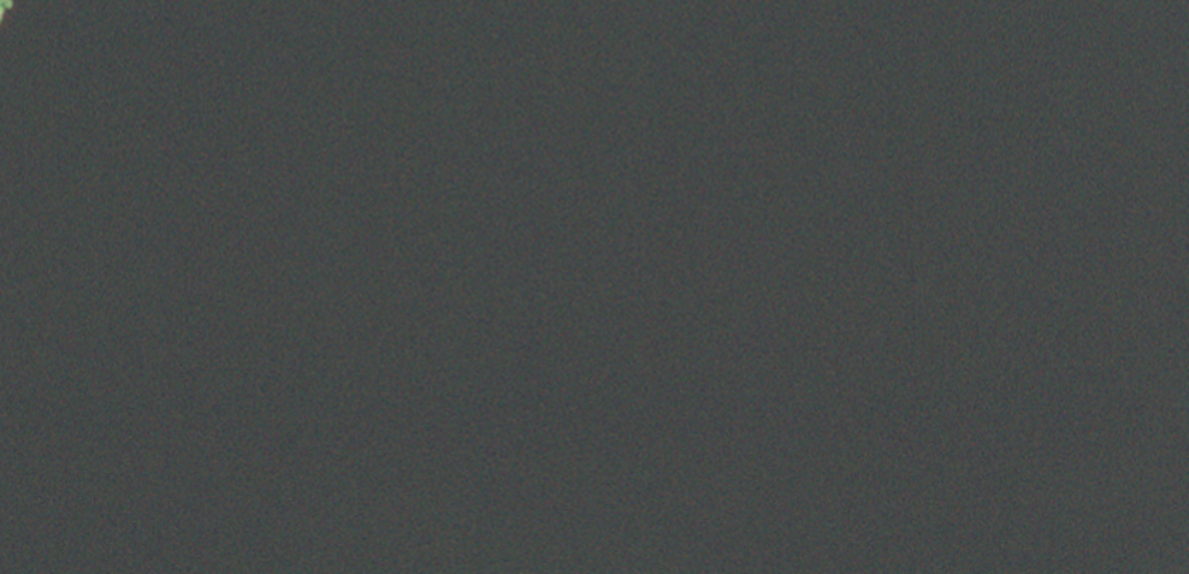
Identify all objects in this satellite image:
river: (1017, 152)

